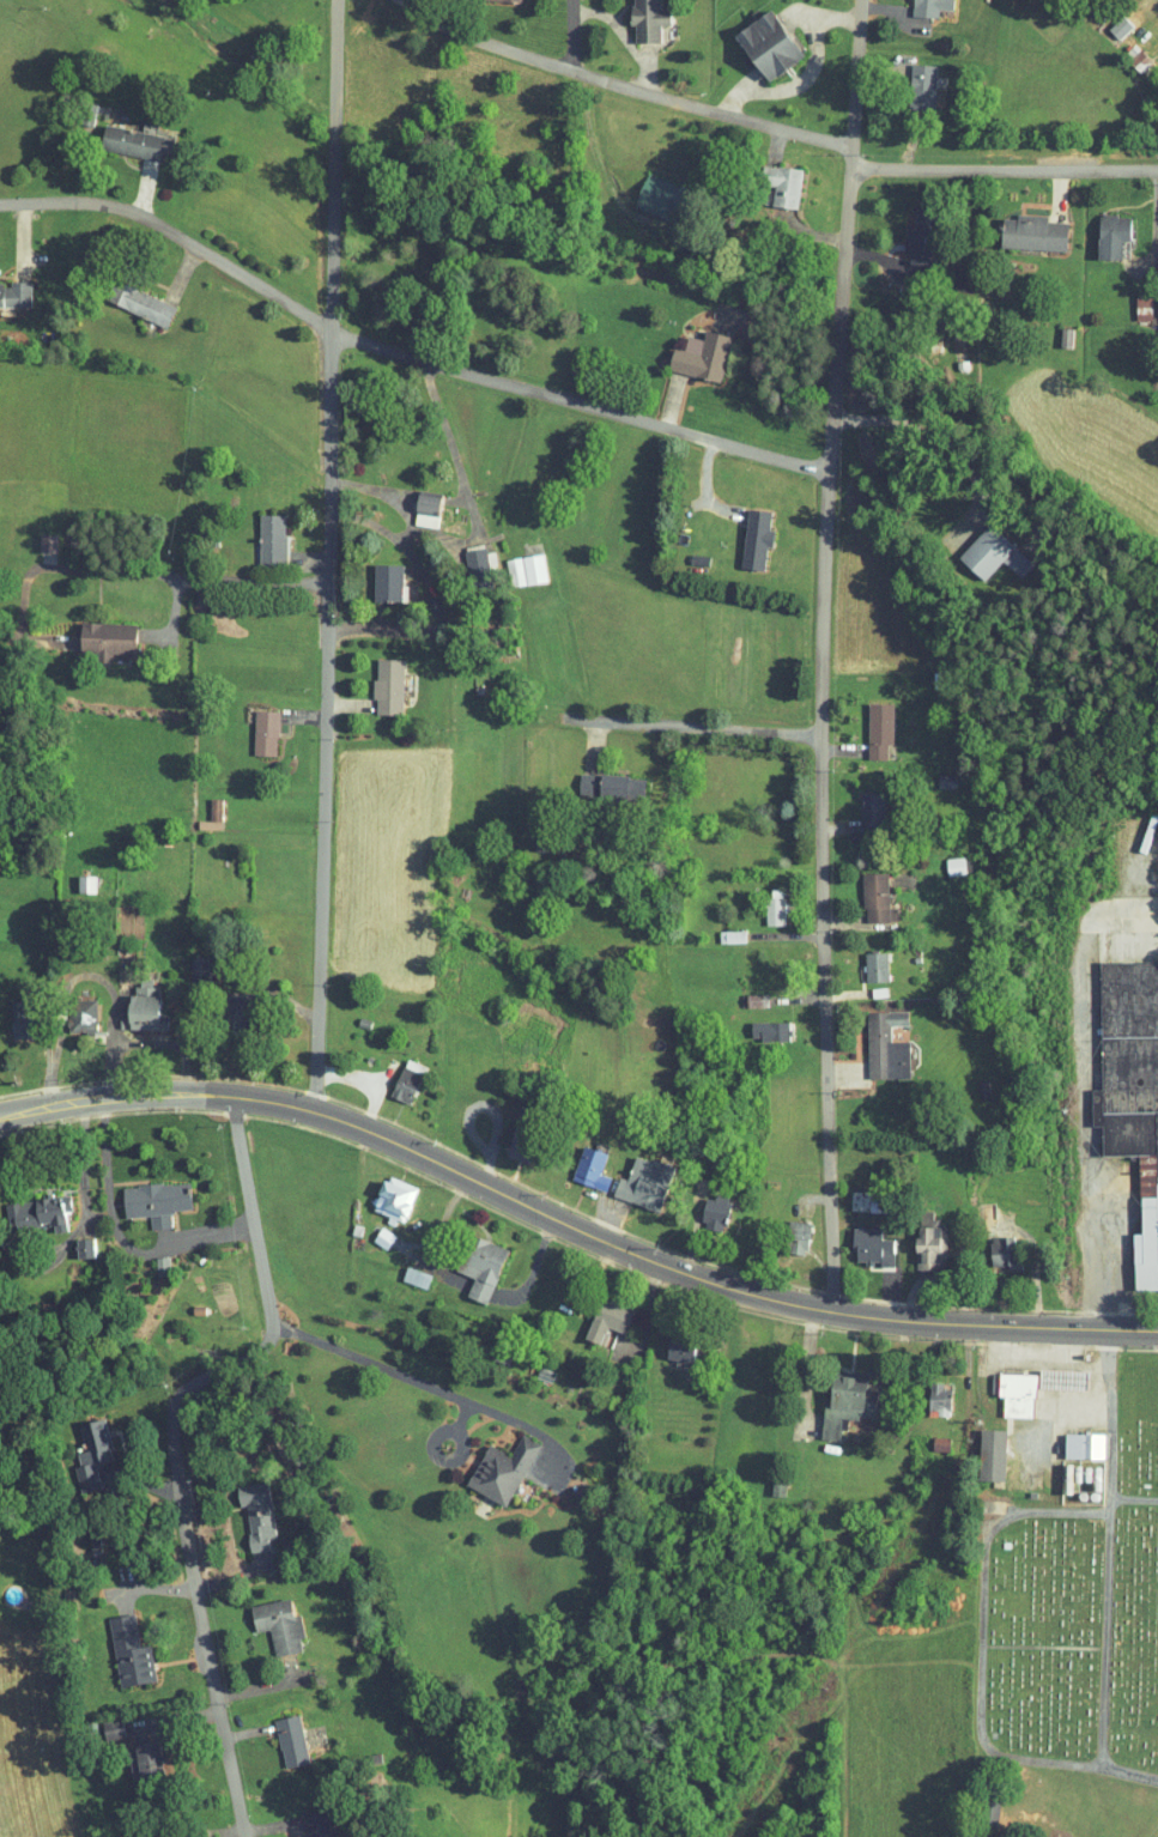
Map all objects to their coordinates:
building: (913, 4)
building: (633, 16)
road: (575, 35)
building: (754, 38)
building: (1122, 50)
building: (1157, 50)
building: (908, 79)
road: (625, 84)
building: (120, 135)
road: (1005, 170)
building: (765, 176)
building: (642, 187)
building: (909, 220)
building: (1019, 226)
building: (1098, 229)
building: (7, 286)
building: (125, 297)
building: (1129, 302)
building: (686, 350)
road: (405, 353)
building: (413, 502)
building: (256, 533)
building: (741, 533)
building: (32, 536)
building: (980, 547)
road: (329, 554)
building: (465, 558)
building: (513, 563)
building: (372, 576)
road: (253, 581)
building: (95, 635)
road: (823, 655)
building: (374, 680)
building: (865, 721)
building: (250, 726)
road: (673, 727)
building: (571, 777)
building: (607, 778)
building: (857, 801)
building: (198, 808)
building: (940, 857)
building: (72, 875)
building: (862, 890)
building: (760, 899)
building: (717, 928)
building: (184, 959)
building: (861, 959)
building: (742, 993)
building: (126, 999)
building: (66, 1008)
building: (10, 1015)
building: (754, 1023)
building: (872, 1037)
building: (393, 1073)
building: (1126, 1092)
building: (505, 1138)
building: (576, 1160)
building: (630, 1175)
building: (380, 1190)
building: (141, 1194)
building: (29, 1204)
building: (699, 1205)
road: (571, 1226)
building: (782, 1230)
building: (857, 1239)
building: (915, 1239)
building: (71, 1241)
building: (990, 1244)
building: (467, 1259)
building: (404, 1271)
building: (594, 1311)
building: (666, 1342)
building: (1049, 1371)
road: (396, 1372)
building: (1002, 1387)
building: (924, 1393)
building: (832, 1395)
building: (1069, 1438)
road: (169, 1442)
building: (78, 1445)
building: (977, 1447)
building: (487, 1462)
building: (242, 1506)
road: (1104, 1576)
road: (983, 1607)
park: (1075, 1615)
building: (263, 1618)
building: (115, 1644)
building: (98, 1722)
building: (277, 1733)
building: (129, 1746)
building: (301, 1820)

